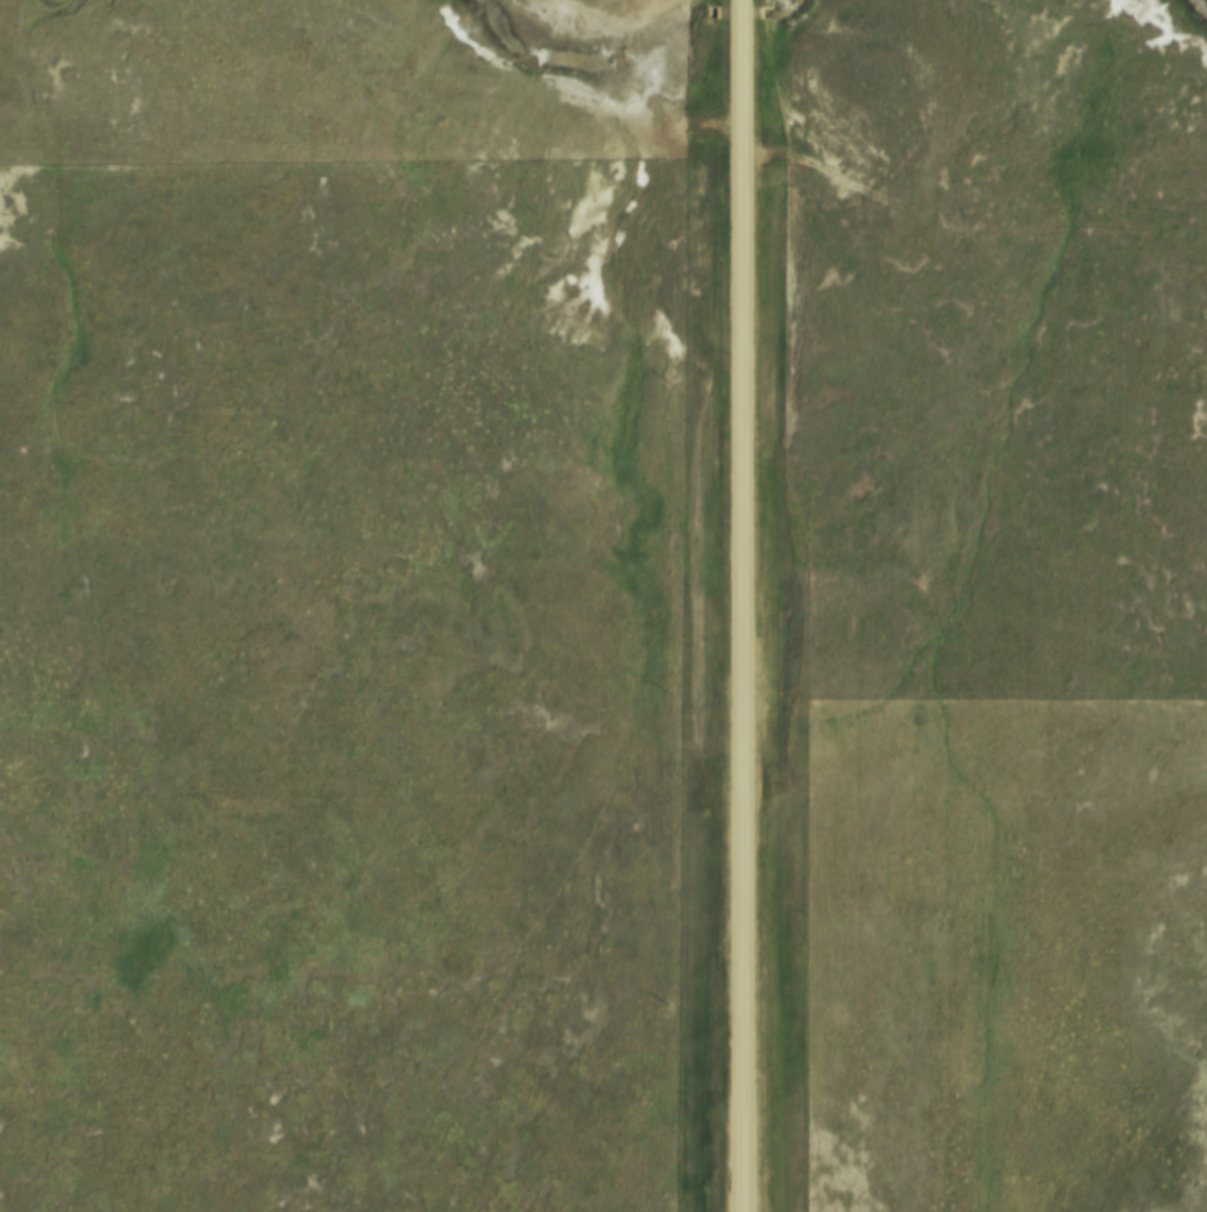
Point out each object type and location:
road: (746, 605)

